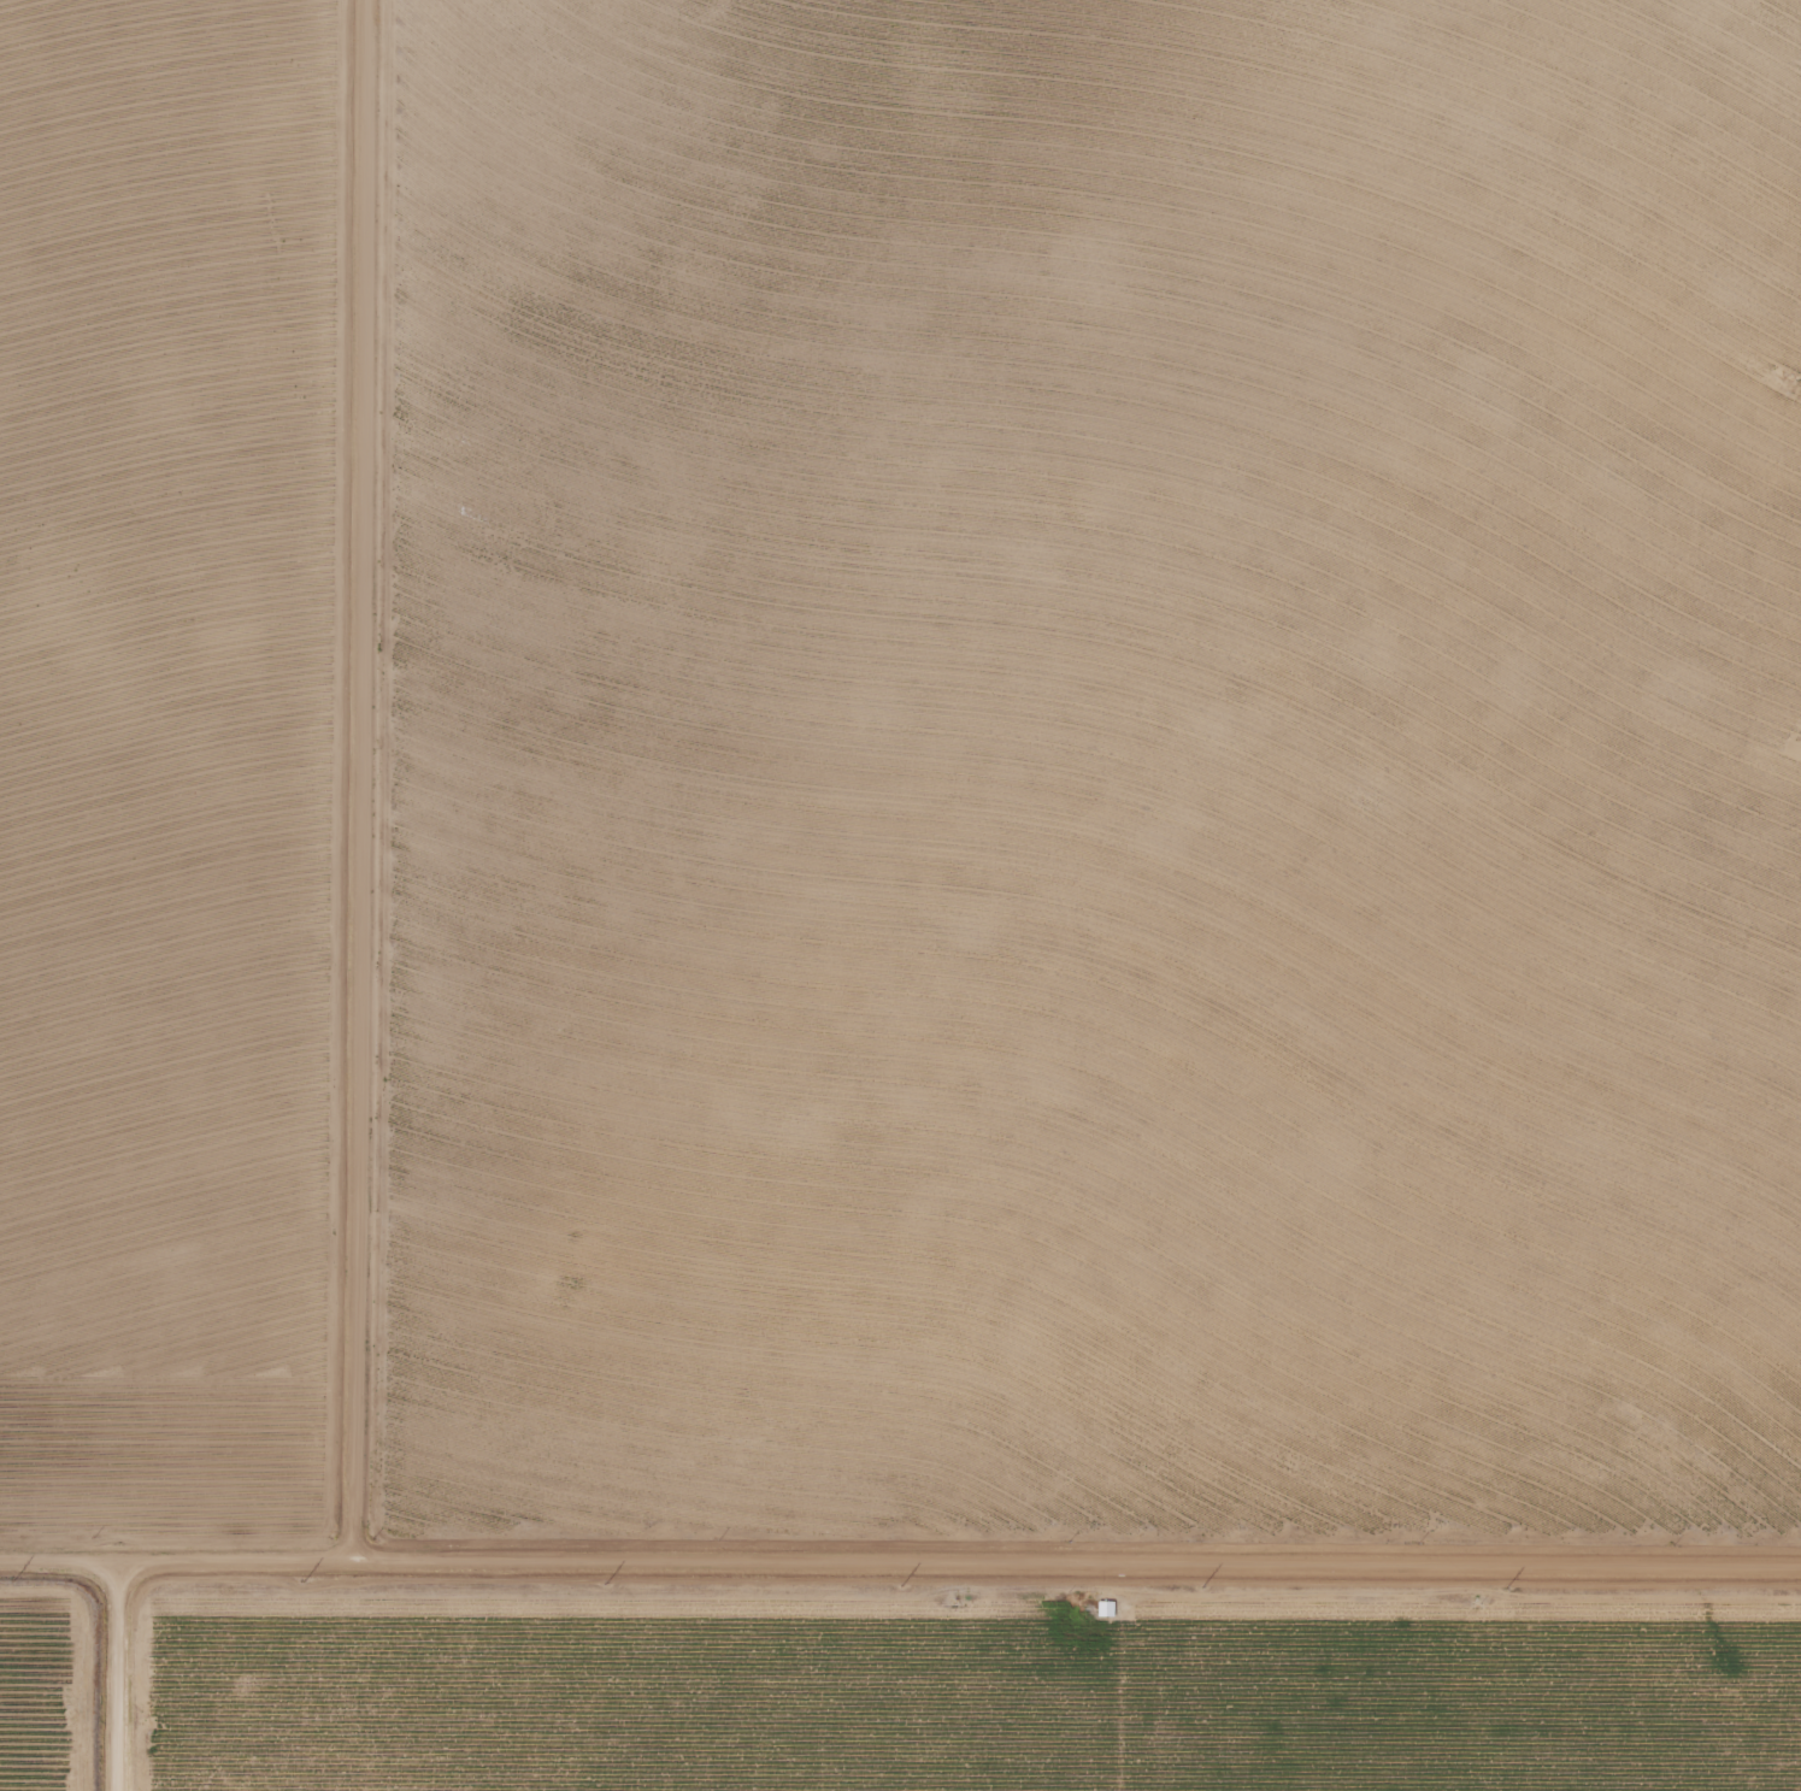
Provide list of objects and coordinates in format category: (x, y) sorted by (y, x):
road: (365, 782)
road: (900, 1567)
road: (119, 1678)

